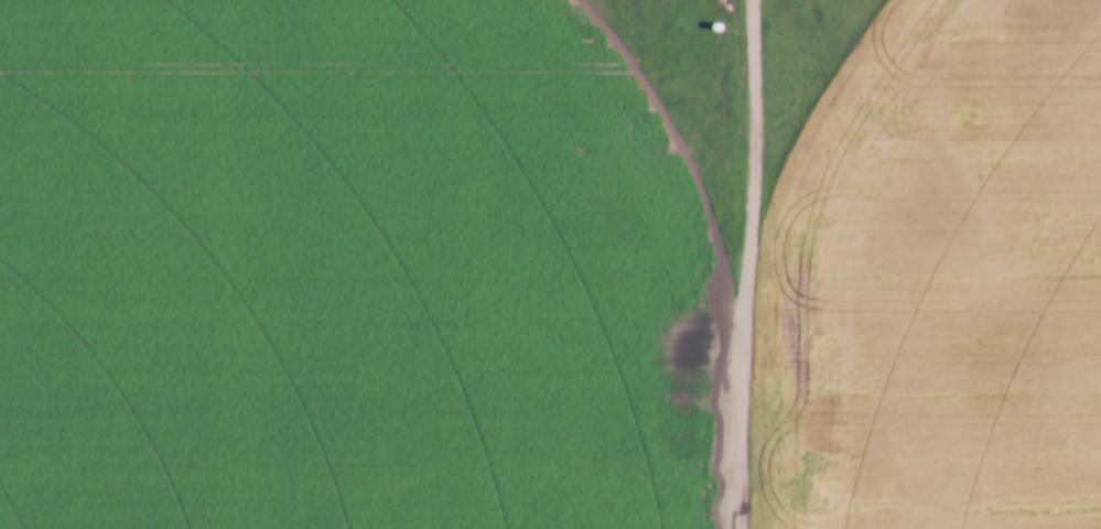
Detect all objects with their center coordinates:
road: (749, 264)

